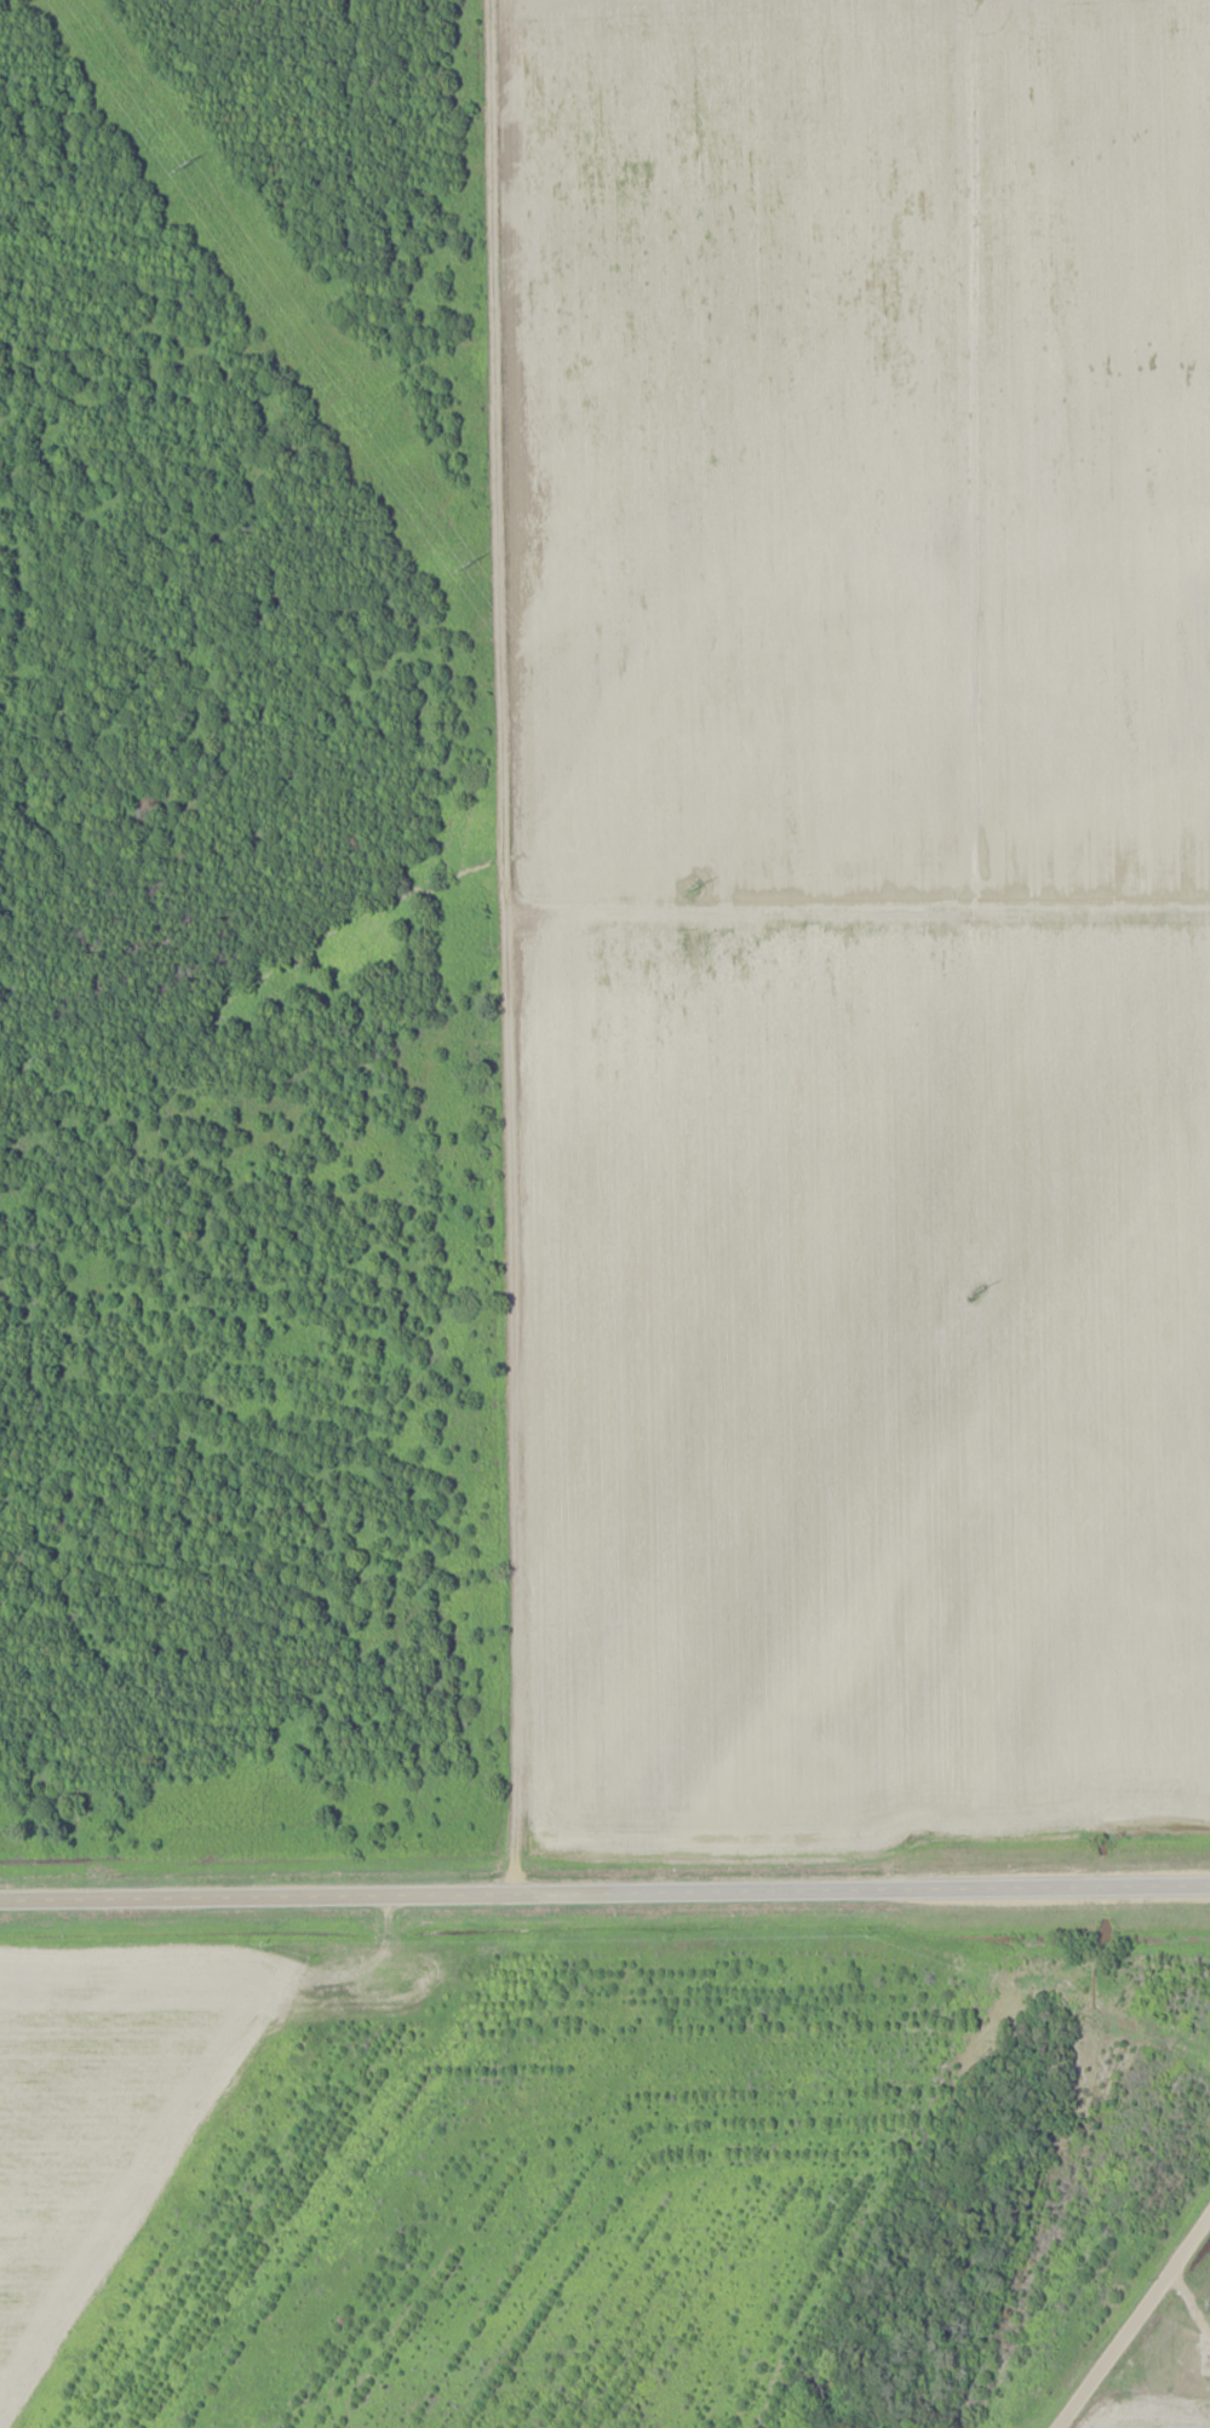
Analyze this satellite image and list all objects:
power tower: (188, 166)
power tower: (469, 567)
power tower: (695, 886)
road: (504, 946)
power tower: (979, 1291)
road: (604, 1890)
road: (1198, 2297)
road: (1132, 2323)
road: (1166, 2386)
building: (1203, 2393)

